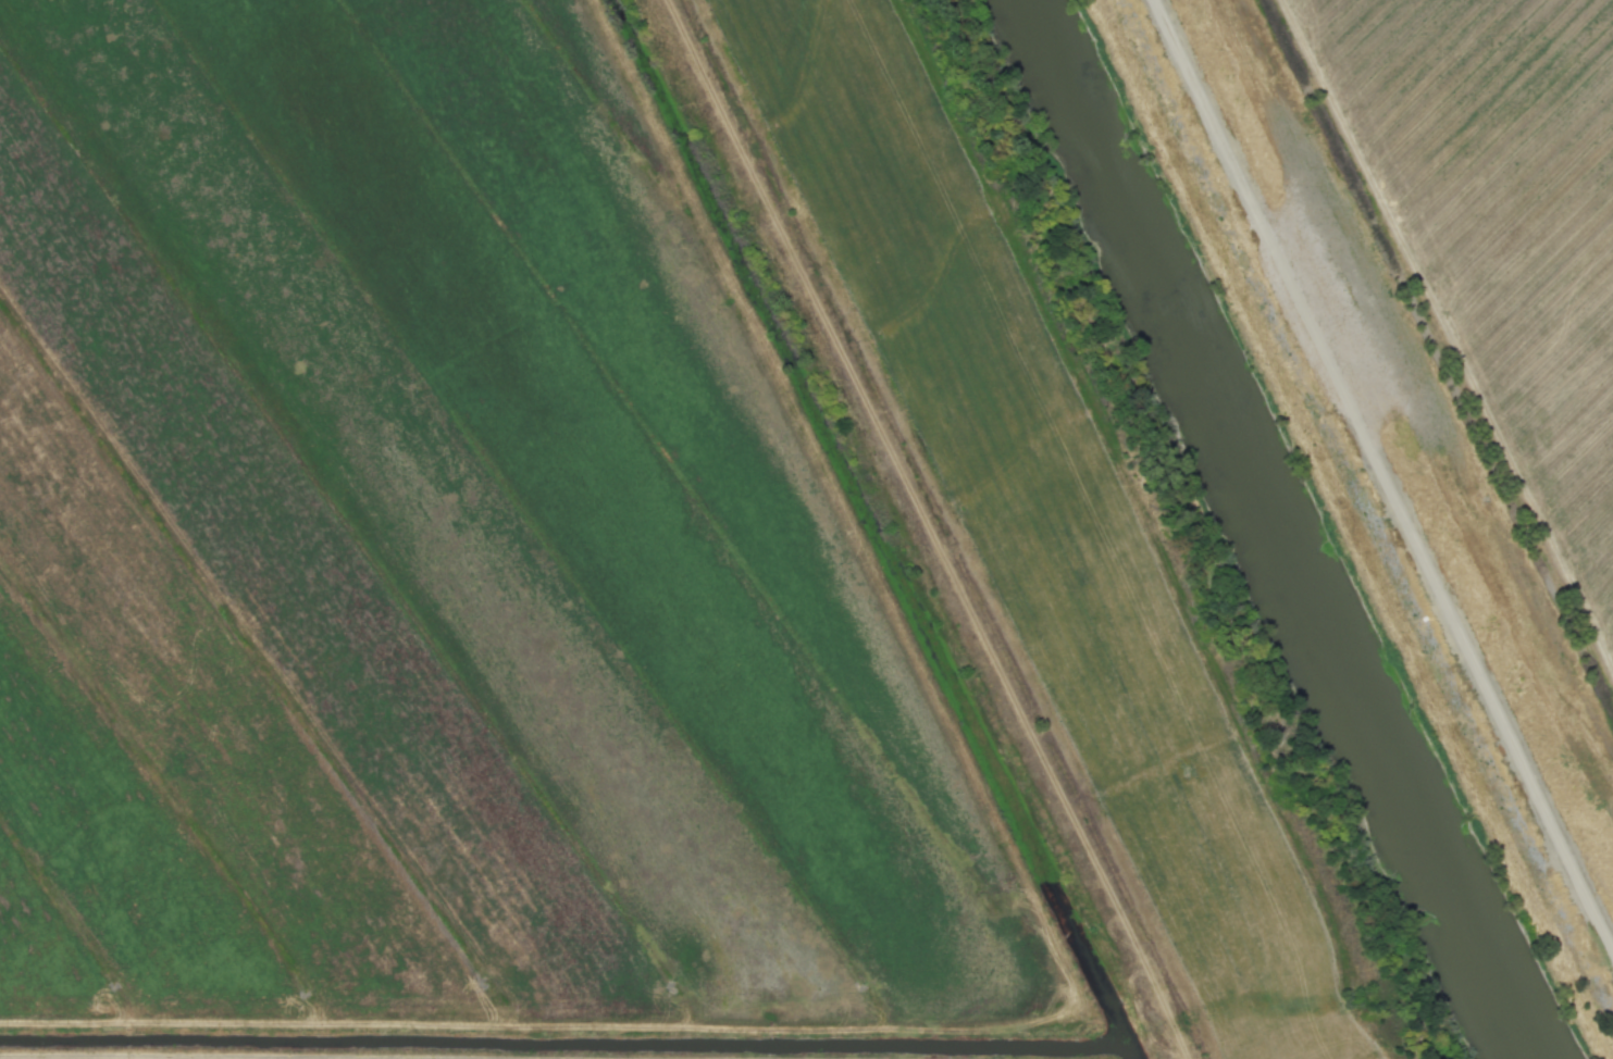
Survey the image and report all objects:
crop: (1467, 286)
crop: (596, 559)
road: (1449, 573)

